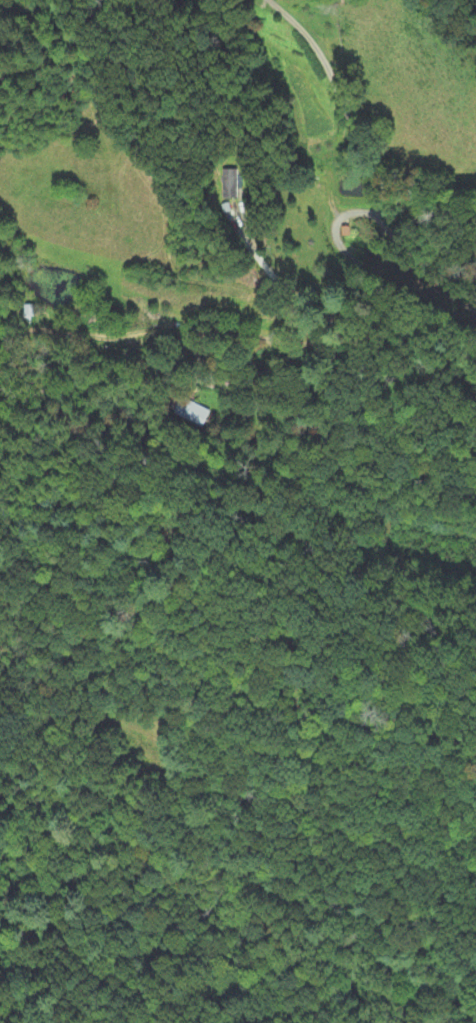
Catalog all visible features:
road: (366, 161)
building: (232, 184)

